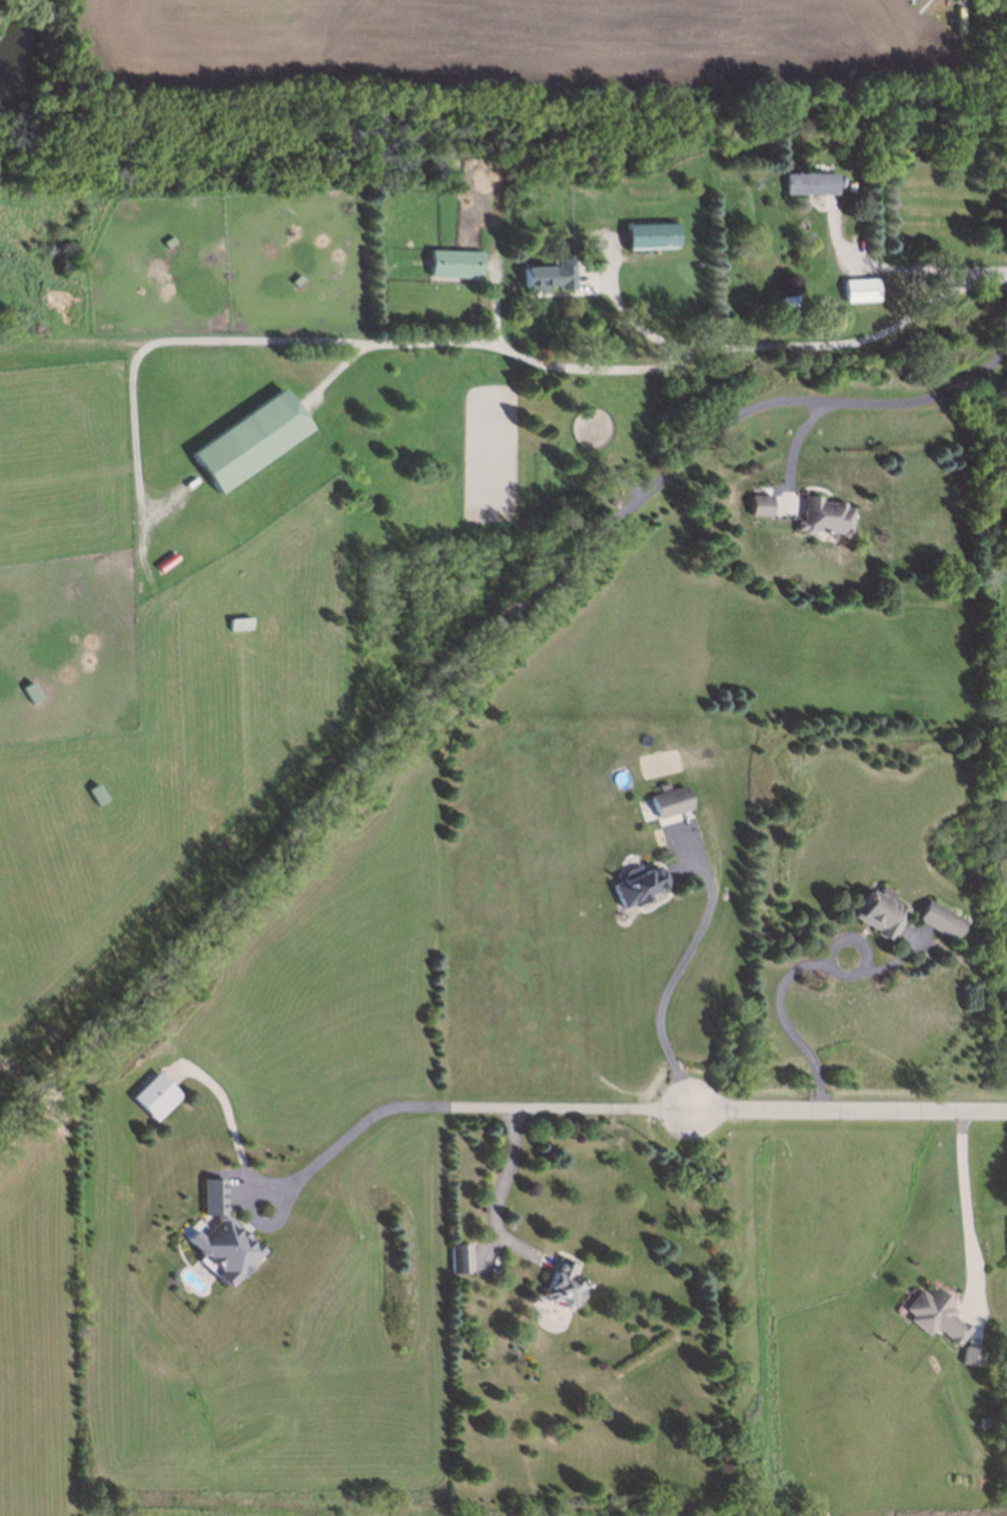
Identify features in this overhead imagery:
park: (37, 66)
building: (806, 181)
building: (166, 242)
building: (648, 242)
road: (896, 267)
building: (454, 273)
road: (980, 276)
building: (296, 281)
building: (550, 283)
building: (857, 289)
building: (787, 301)
road: (636, 326)
road: (173, 341)
road: (644, 366)
building: (248, 441)
road: (797, 446)
building: (759, 500)
building: (824, 511)
building: (238, 620)
road: (462, 658)
building: (29, 689)
building: (94, 791)
building: (669, 799)
building: (656, 834)
building: (638, 883)
building: (866, 909)
building: (922, 917)
building: (941, 919)
road: (793, 972)
road: (667, 982)
building: (153, 1092)
road: (391, 1110)
road: (848, 1111)
road: (498, 1190)
road: (959, 1197)
building: (222, 1231)
building: (458, 1261)
building: (563, 1286)
building: (934, 1317)
building: (972, 1355)

